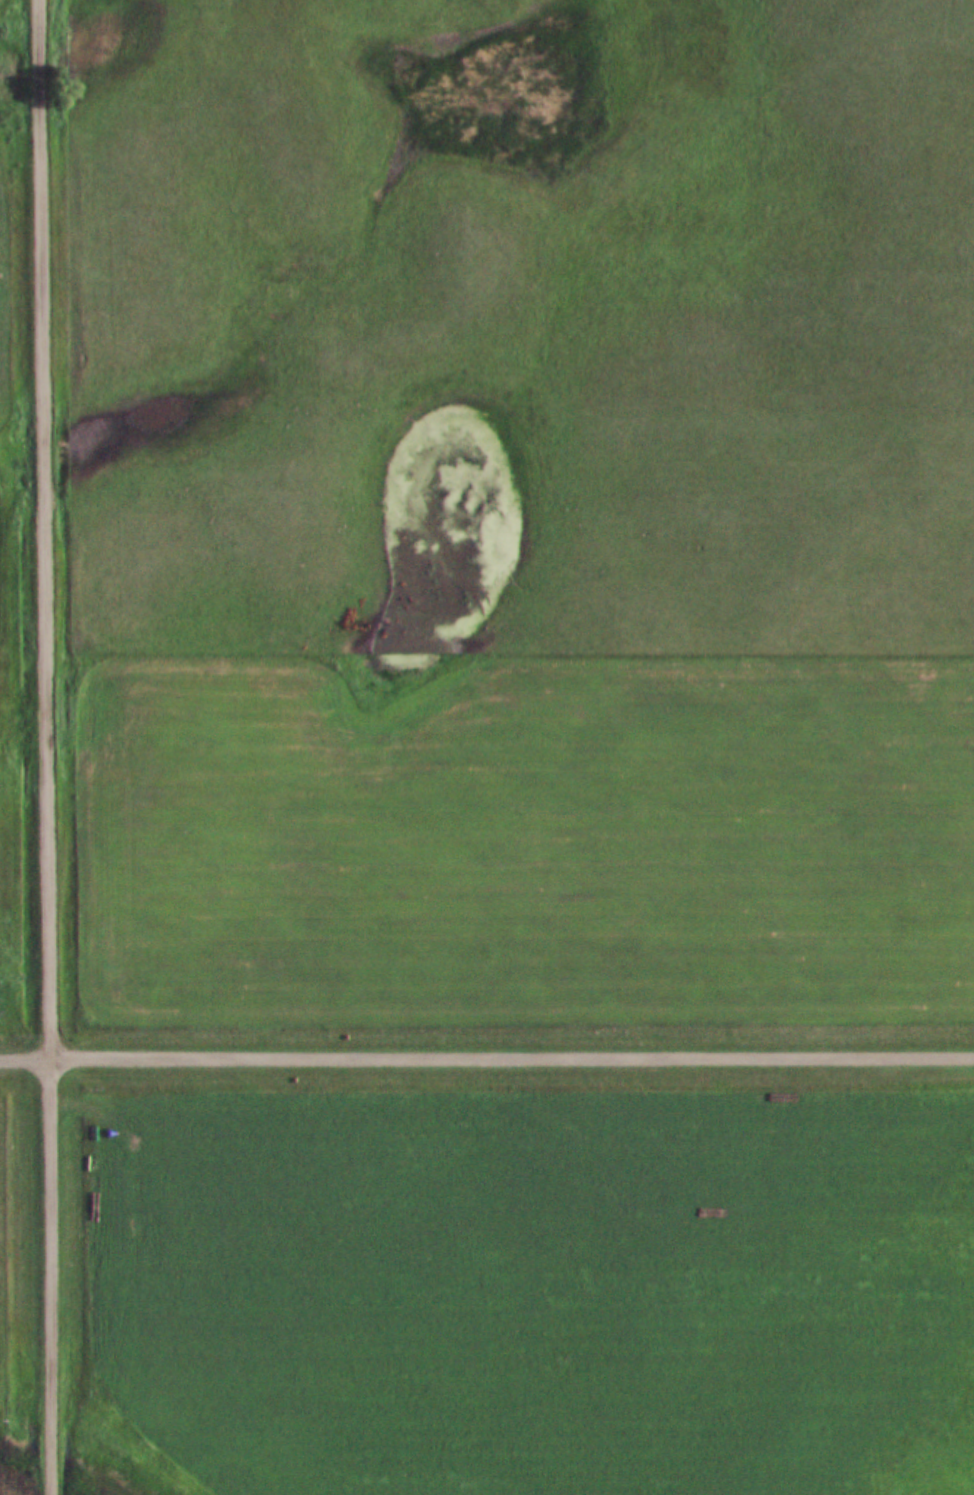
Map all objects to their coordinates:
road: (46, 747)
road: (486, 1058)

